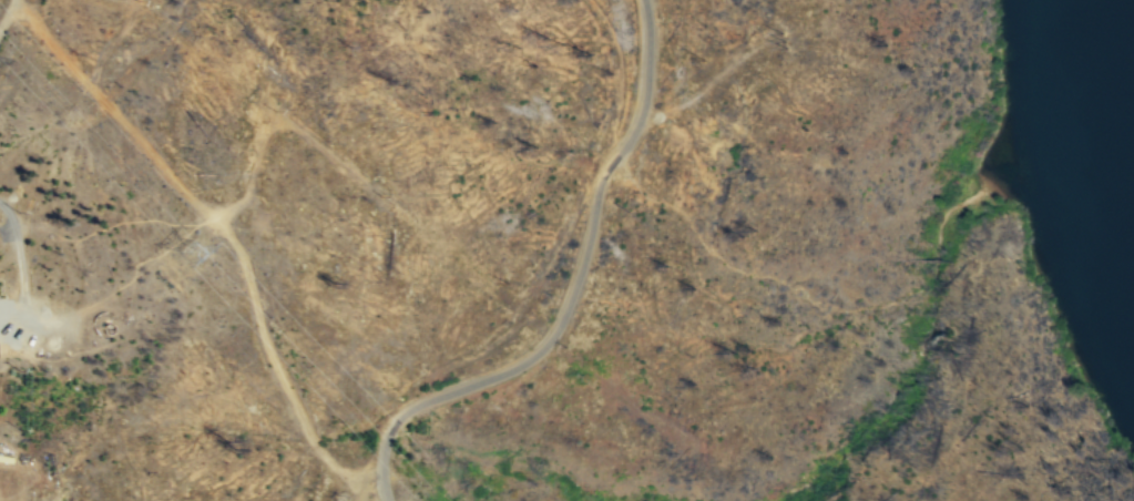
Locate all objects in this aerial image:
road: (7, 13)
road: (620, 75)
road: (226, 232)
power tower: (192, 252)
road: (19, 257)
road: (572, 294)
road: (11, 317)
road: (42, 318)

